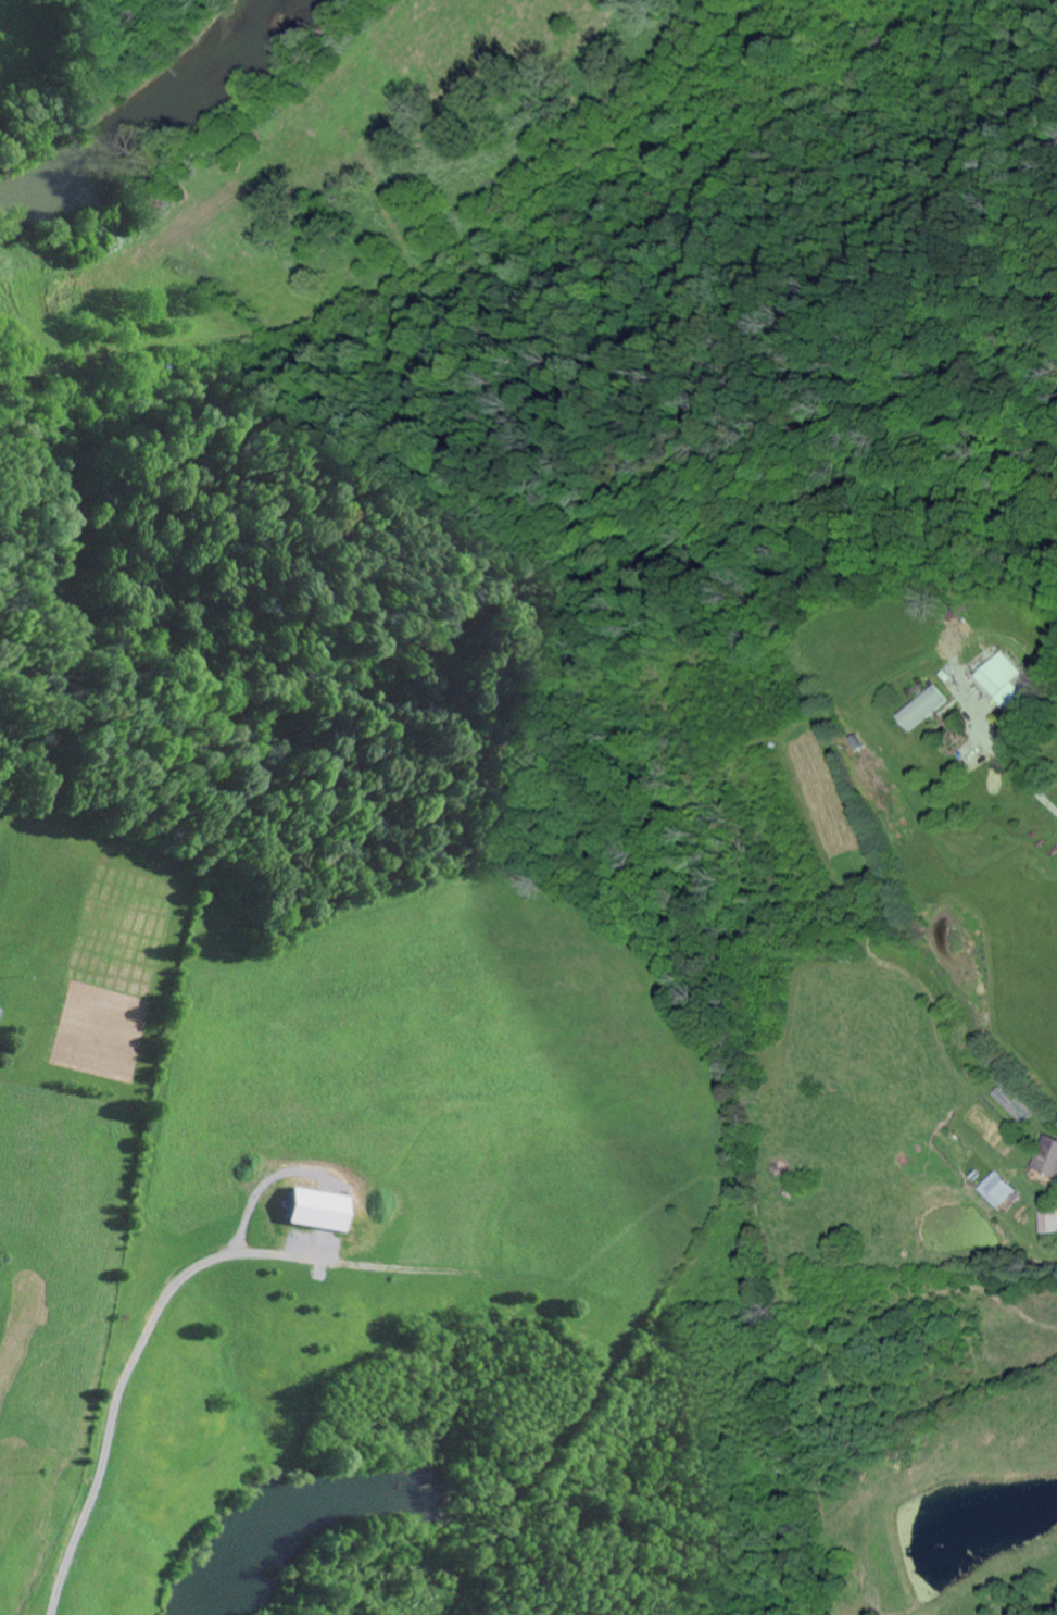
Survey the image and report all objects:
river: (155, 123)
road: (345, 203)
building: (1001, 679)
building: (922, 708)
road: (1028, 781)
building: (0, 1010)
building: (1047, 1157)
building: (994, 1191)
building: (1047, 1222)

